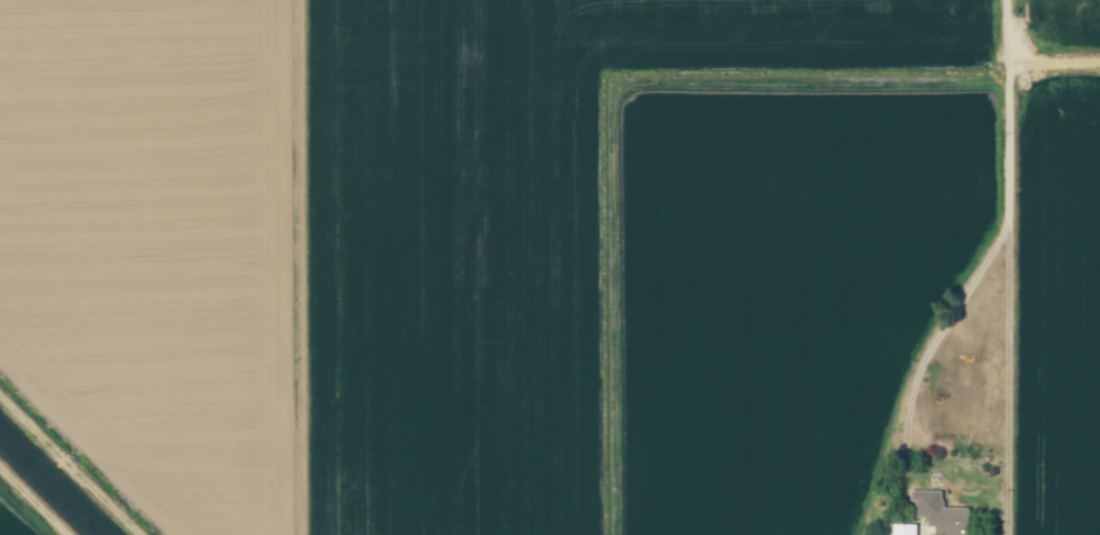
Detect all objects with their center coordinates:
road: (1015, 244)
building: (944, 519)
building: (901, 528)

